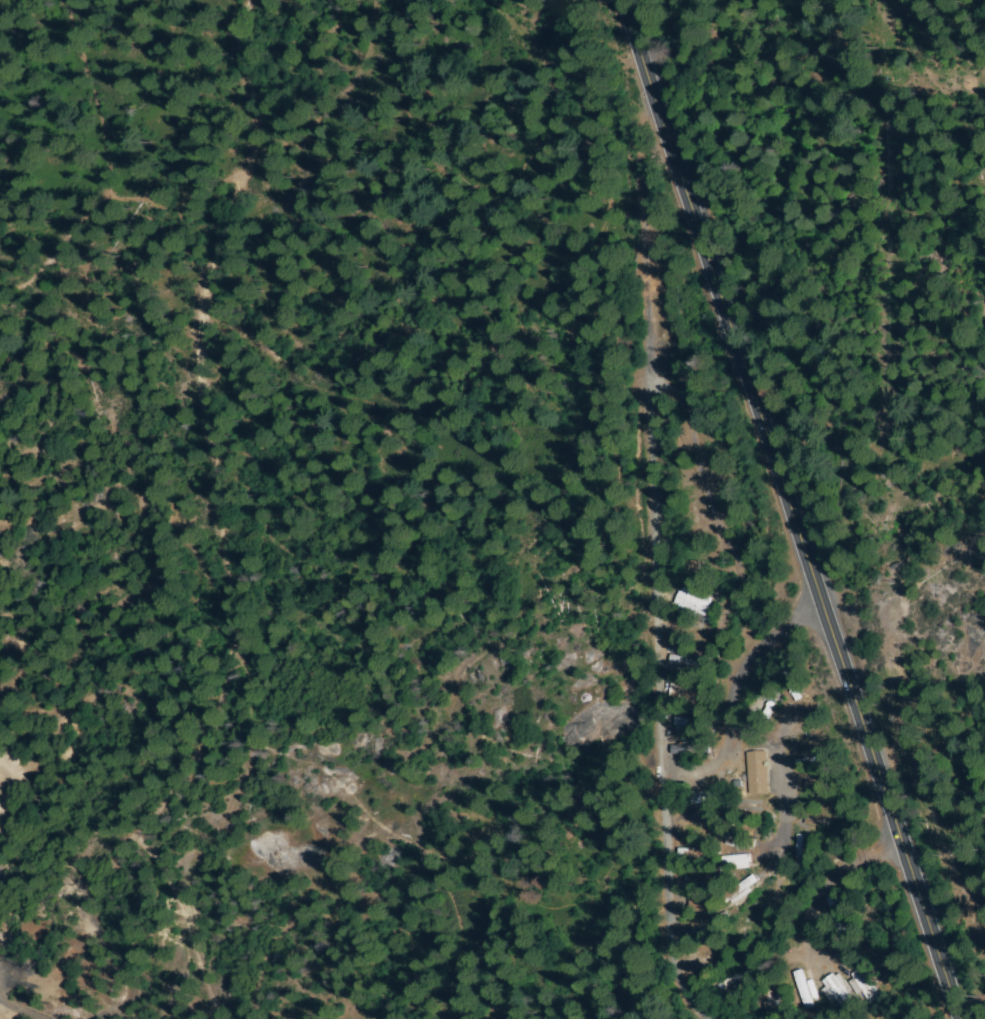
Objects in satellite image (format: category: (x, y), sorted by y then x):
road: (968, 78)
road: (88, 165)
road: (210, 292)
road: (789, 509)
road: (724, 531)
building: (690, 566)
road: (212, 606)
building: (692, 606)
building: (689, 630)
building: (689, 661)
building: (792, 686)
building: (689, 694)
road: (735, 704)
road: (662, 712)
building: (765, 714)
building: (691, 717)
road: (534, 744)
building: (691, 750)
building: (806, 762)
building: (757, 772)
building: (816, 783)
building: (702, 799)
building: (747, 806)
building: (697, 823)
building: (816, 823)
building: (734, 840)
building: (799, 849)
building: (696, 853)
building: (737, 861)
building: (701, 878)
road: (829, 878)
building: (739, 890)
building: (701, 907)
building: (833, 909)
building: (742, 924)
building: (825, 928)
building: (698, 934)
building: (846, 953)
building: (709, 961)
building: (730, 980)
building: (863, 984)
building: (803, 989)
building: (836, 991)
building: (769, 994)

